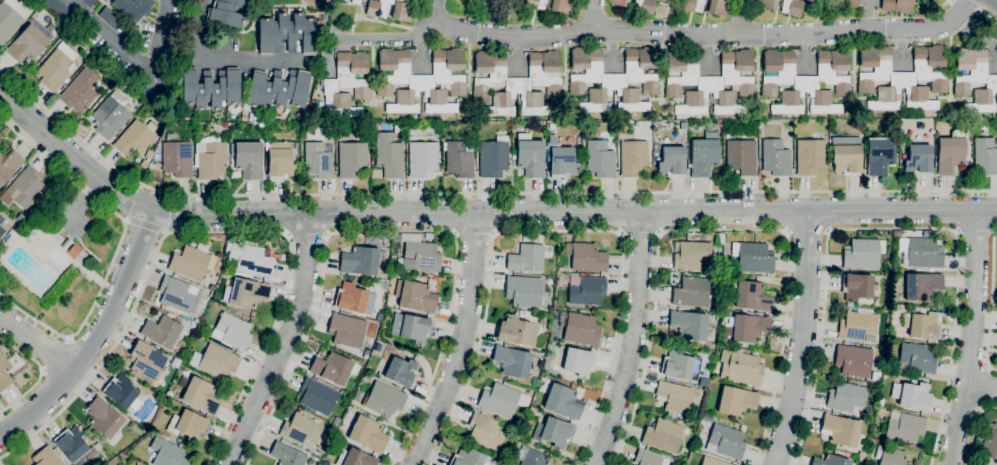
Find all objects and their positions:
building: (469, 0)
building: (663, 0)
building: (356, 1)
building: (809, 1)
building: (89, 2)
building: (483, 2)
building: (619, 2)
building: (887, 2)
building: (842, 3)
road: (944, 3)
building: (535, 4)
building: (766, 4)
building: (692, 5)
road: (965, 5)
building: (560, 6)
building: (644, 6)
building: (903, 6)
building: (719, 7)
building: (792, 7)
building: (132, 8)
building: (58, 9)
building: (391, 9)
road: (434, 10)
road: (977, 10)
building: (225, 13)
road: (592, 15)
building: (110, 17)
road: (739, 17)
road: (987, 17)
building: (8, 19)
road: (195, 29)
building: (287, 34)
road: (107, 35)
road: (160, 35)
road: (705, 35)
road: (367, 38)
building: (29, 42)
road: (235, 60)
building: (56, 67)
building: (902, 77)
building: (613, 79)
building: (974, 79)
building: (421, 80)
building: (710, 81)
building: (805, 81)
building: (517, 82)
building: (346, 84)
building: (210, 88)
building: (277, 89)
building: (79, 91)
building: (110, 115)
building: (450, 117)
building: (925, 121)
building: (754, 124)
building: (261, 125)
building: (552, 125)
building: (683, 125)
building: (760, 132)
building: (135, 137)
building: (952, 151)
building: (149, 153)
building: (703, 154)
building: (846, 154)
building: (209, 155)
building: (985, 155)
building: (388, 156)
building: (529, 156)
building: (810, 156)
building: (879, 156)
building: (494, 157)
building: (632, 157)
building: (741, 157)
building: (776, 157)
building: (177, 158)
building: (423, 158)
building: (599, 158)
building: (249, 159)
building: (282, 159)
building: (318, 159)
building: (352, 159)
building: (458, 159)
building: (559, 159)
building: (918, 159)
building: (672, 161)
building: (9, 164)
building: (24, 188)
road: (476, 193)
road: (83, 200)
road: (477, 212)
road: (172, 213)
building: (20, 216)
building: (1, 219)
road: (147, 225)
road: (893, 228)
road: (552, 230)
road: (723, 230)
building: (2, 231)
road: (207, 231)
road: (389, 231)
road: (975, 231)
road: (808, 233)
road: (472, 234)
road: (640, 234)
road: (307, 235)
building: (396, 237)
building: (65, 242)
road: (118, 246)
building: (921, 252)
building: (77, 253)
building: (863, 253)
building: (691, 255)
building: (421, 256)
building: (586, 257)
building: (752, 257)
building: (526, 258)
building: (250, 259)
building: (362, 260)
building: (193, 262)
building: (60, 285)
building: (857, 286)
building: (922, 286)
building: (524, 290)
building: (586, 290)
building: (691, 292)
building: (245, 293)
building: (179, 294)
building: (750, 295)
building: (415, 296)
building: (354, 298)
road: (990, 302)
building: (849, 304)
building: (521, 313)
building: (379, 316)
building: (196, 321)
building: (922, 323)
building: (689, 324)
building: (857, 325)
building: (411, 327)
building: (579, 328)
building: (747, 328)
building: (346, 330)
building: (232, 331)
building: (516, 331)
building: (162, 332)
road: (98, 337)
road: (970, 338)
road: (633, 340)
road: (805, 340)
road: (38, 341)
building: (393, 341)
road: (462, 343)
road: (285, 344)
road: (55, 354)
building: (365, 356)
building: (917, 357)
building: (147, 360)
building: (853, 360)
building: (215, 361)
building: (512, 361)
building: (578, 361)
building: (680, 364)
building: (332, 367)
building: (740, 367)
building: (401, 372)
building: (4, 373)
road: (41, 373)
road: (982, 387)
building: (121, 392)
building: (201, 395)
building: (915, 395)
building: (318, 396)
building: (674, 396)
building: (846, 396)
building: (384, 399)
building: (501, 400)
building: (736, 400)
building: (563, 403)
building: (103, 417)
building: (132, 425)
building: (188, 425)
building: (904, 426)
road: (974, 428)
building: (301, 429)
building: (485, 431)
building: (843, 431)
building: (555, 432)
building: (367, 434)
building: (662, 435)
building: (725, 442)
building: (990, 443)
building: (71, 444)
building: (167, 453)
building: (287, 454)
building: (890, 456)
building: (47, 457)
building: (354, 458)
building: (468, 458)
building: (534, 458)
building: (647, 458)
building: (832, 460)
building: (666, 461)
building: (713, 461)

